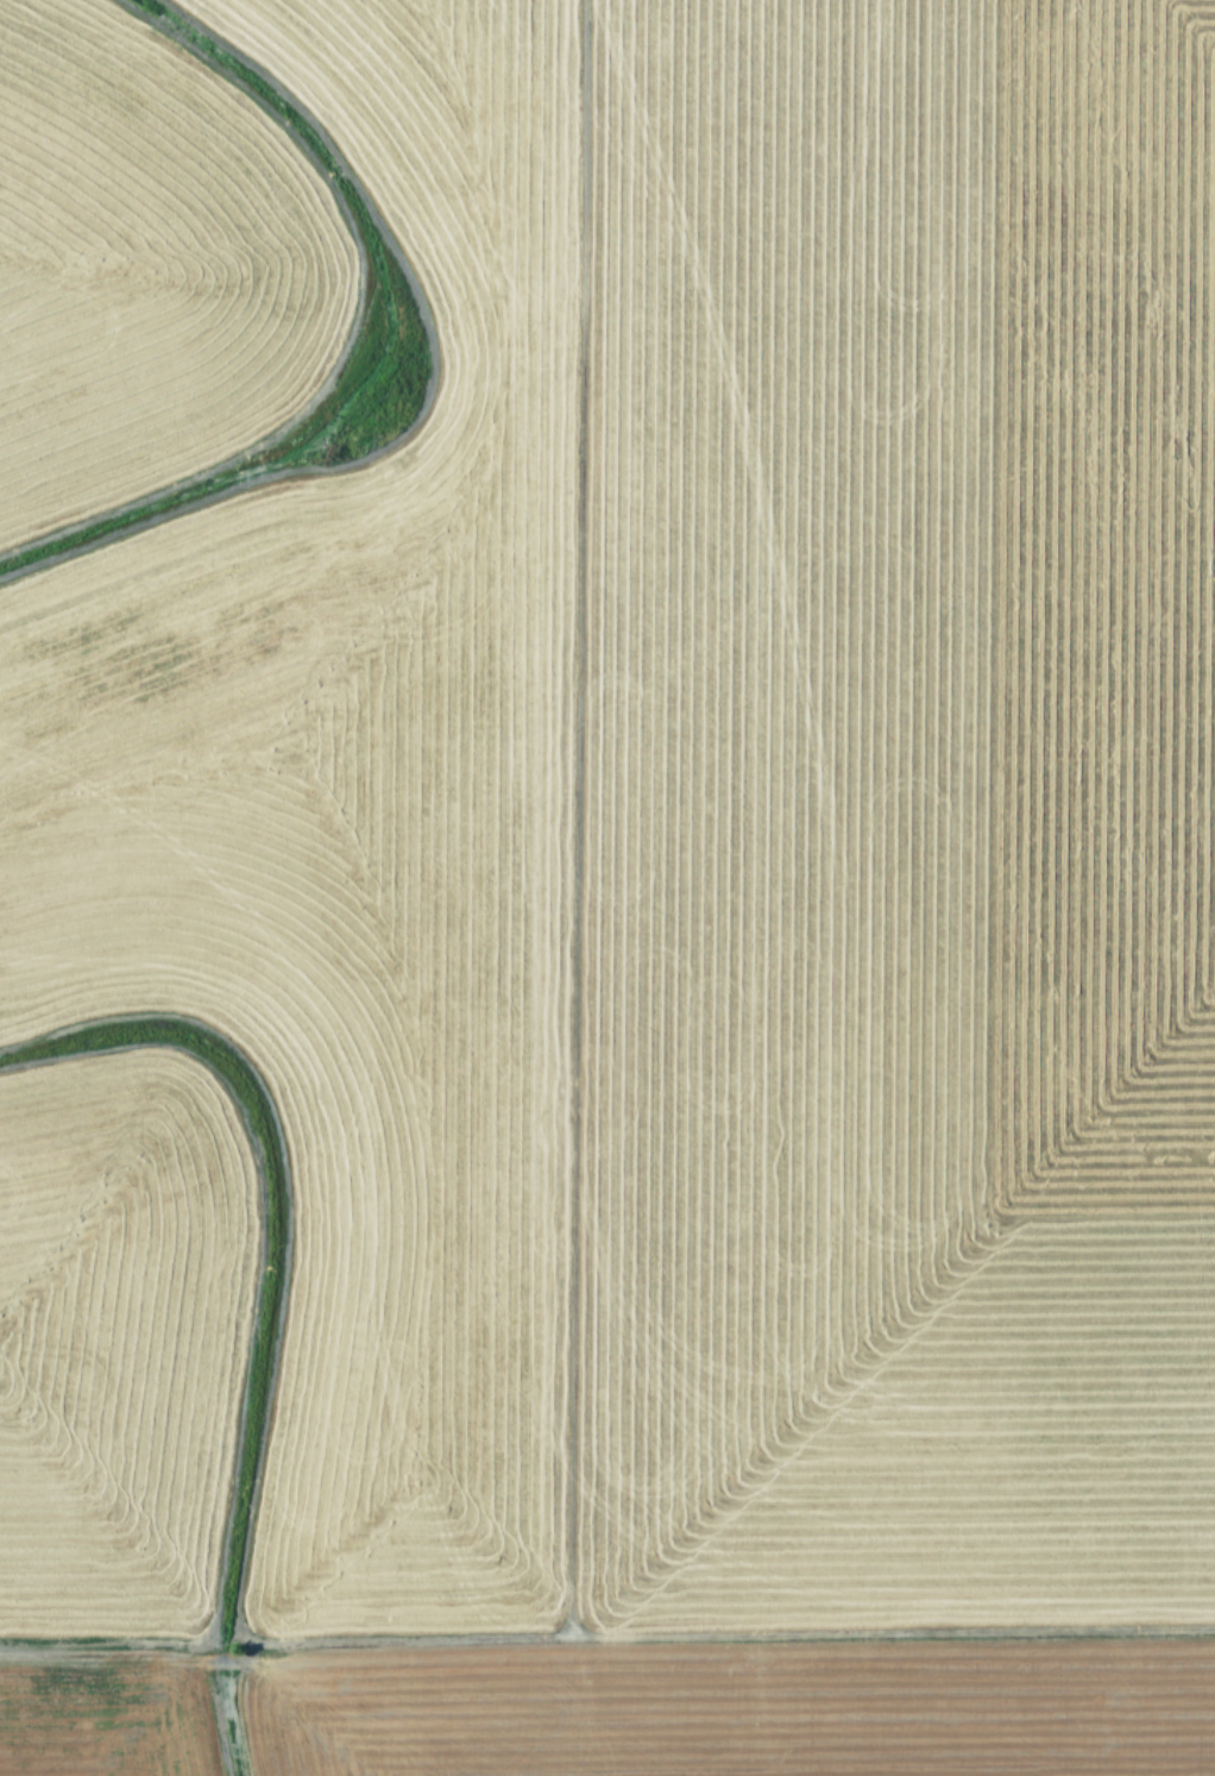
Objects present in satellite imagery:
crop: (607, 887)

